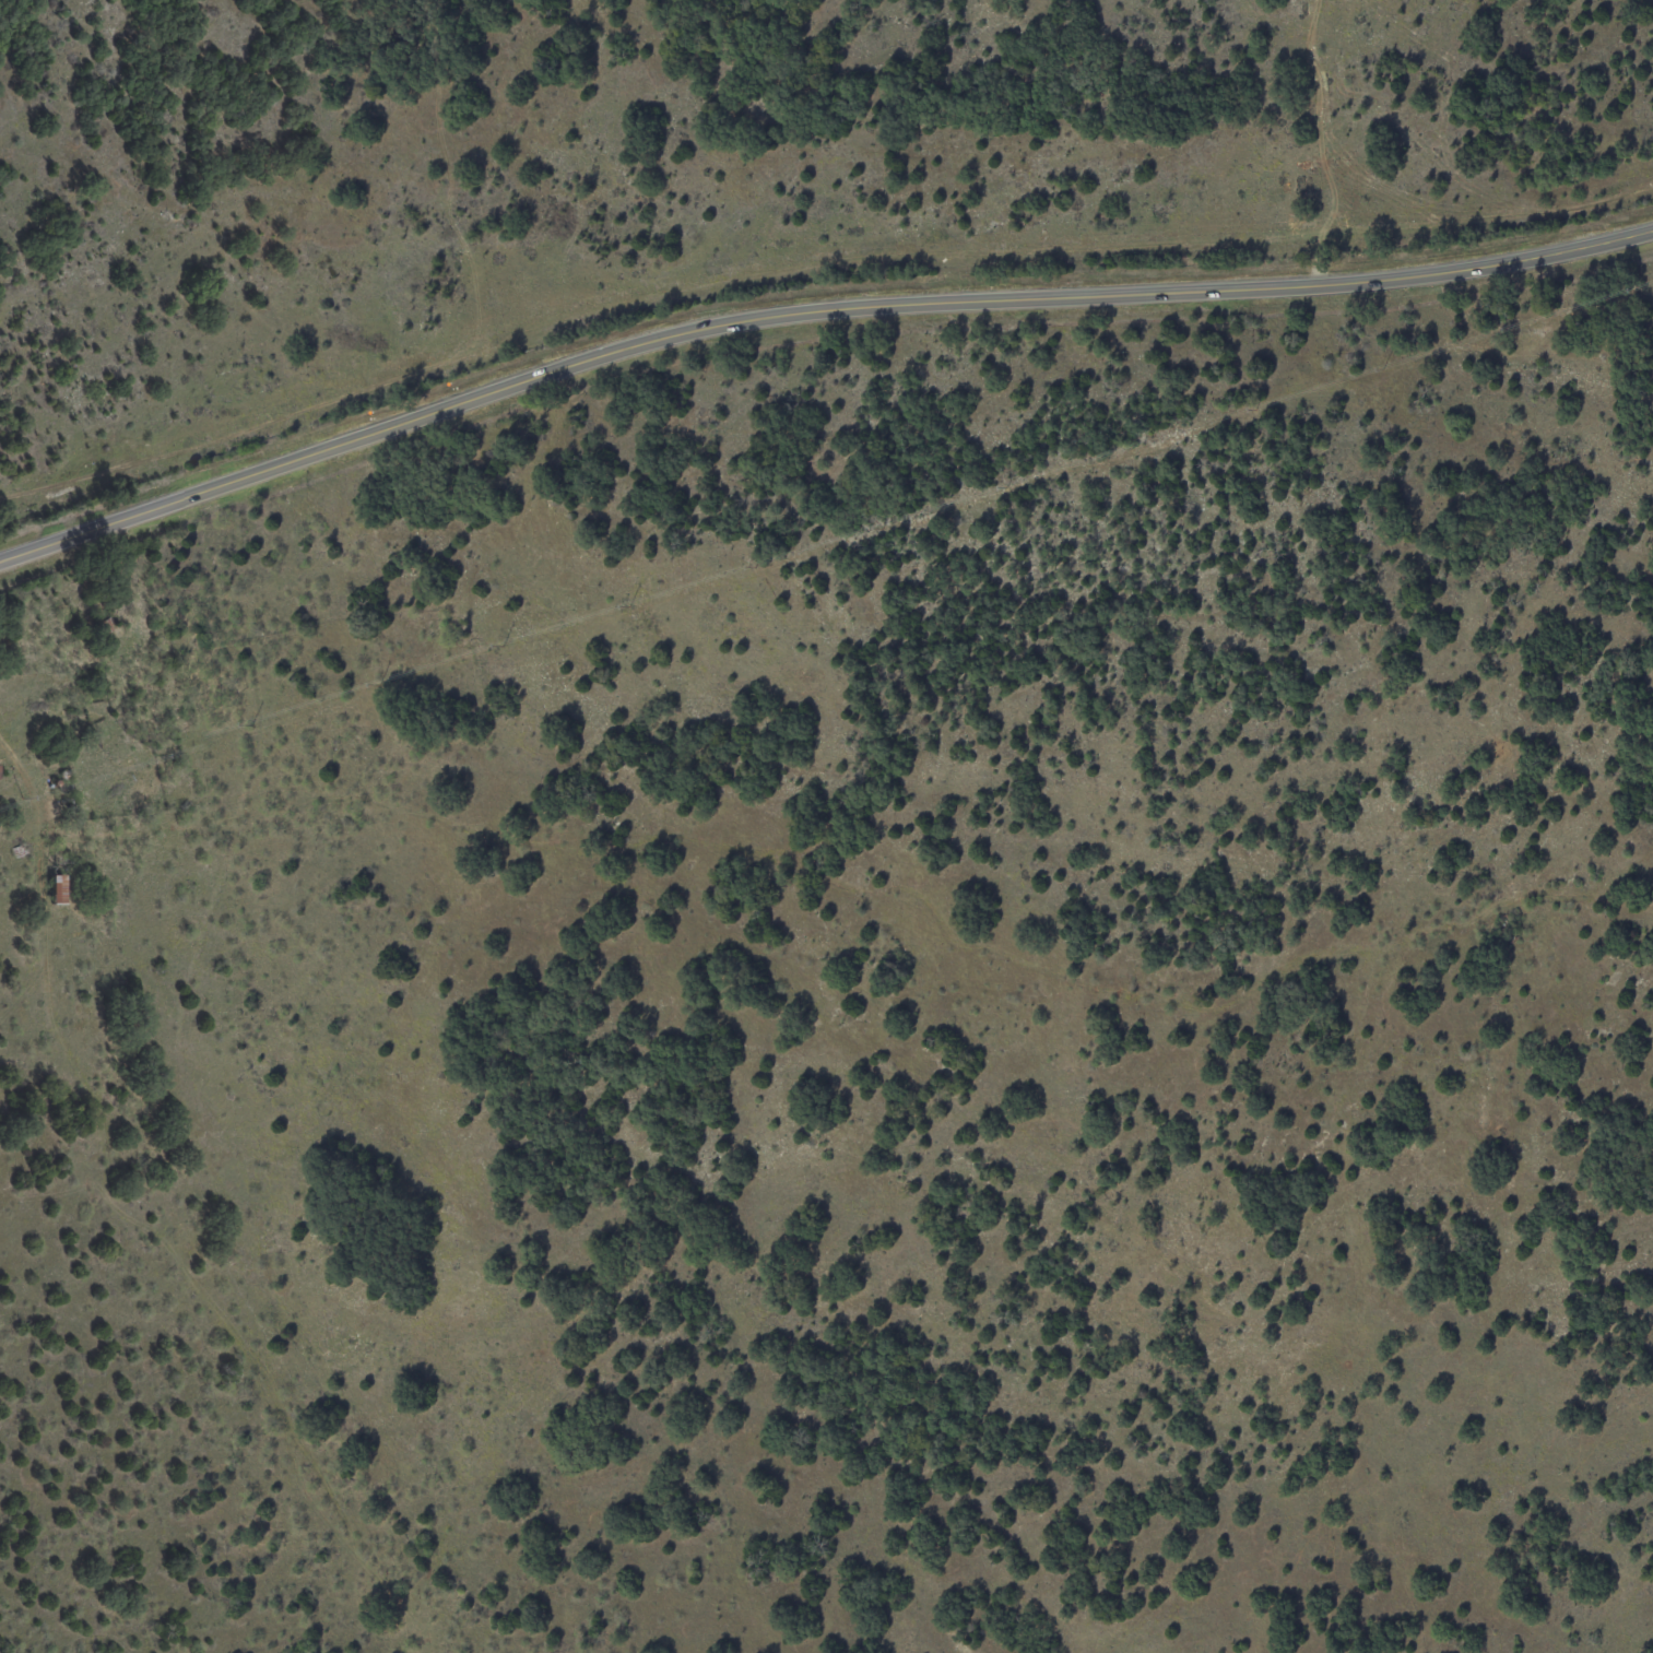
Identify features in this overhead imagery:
road: (808, 309)

